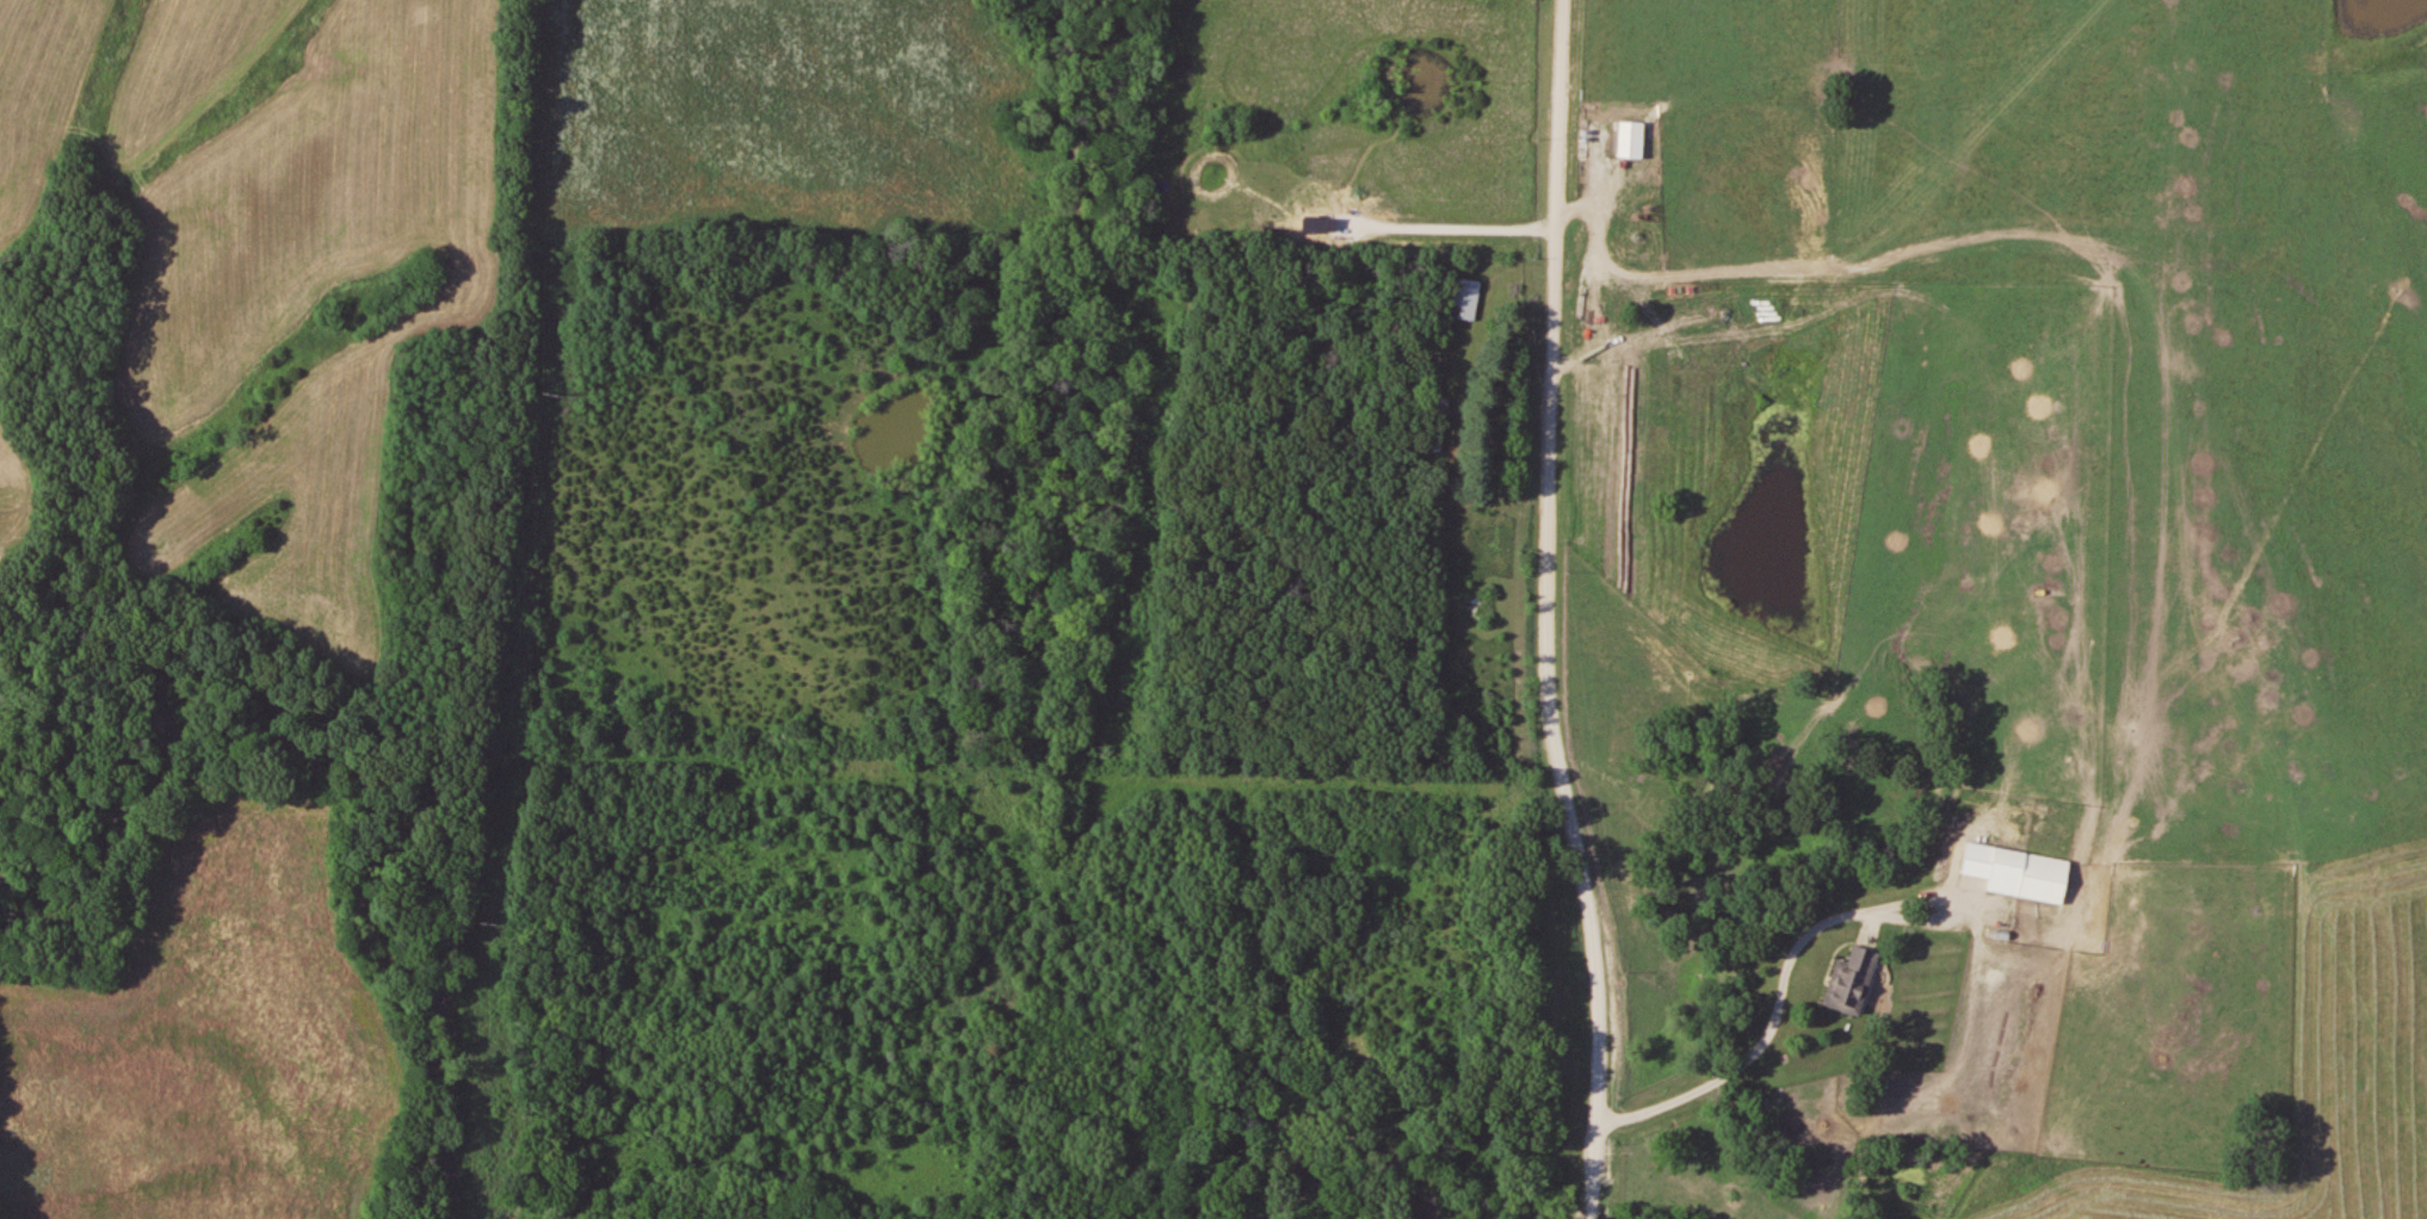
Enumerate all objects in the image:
building: (1632, 140)
building: (1466, 298)
building: (1613, 414)
road: (1557, 609)
building: (2020, 872)
building: (1853, 982)

